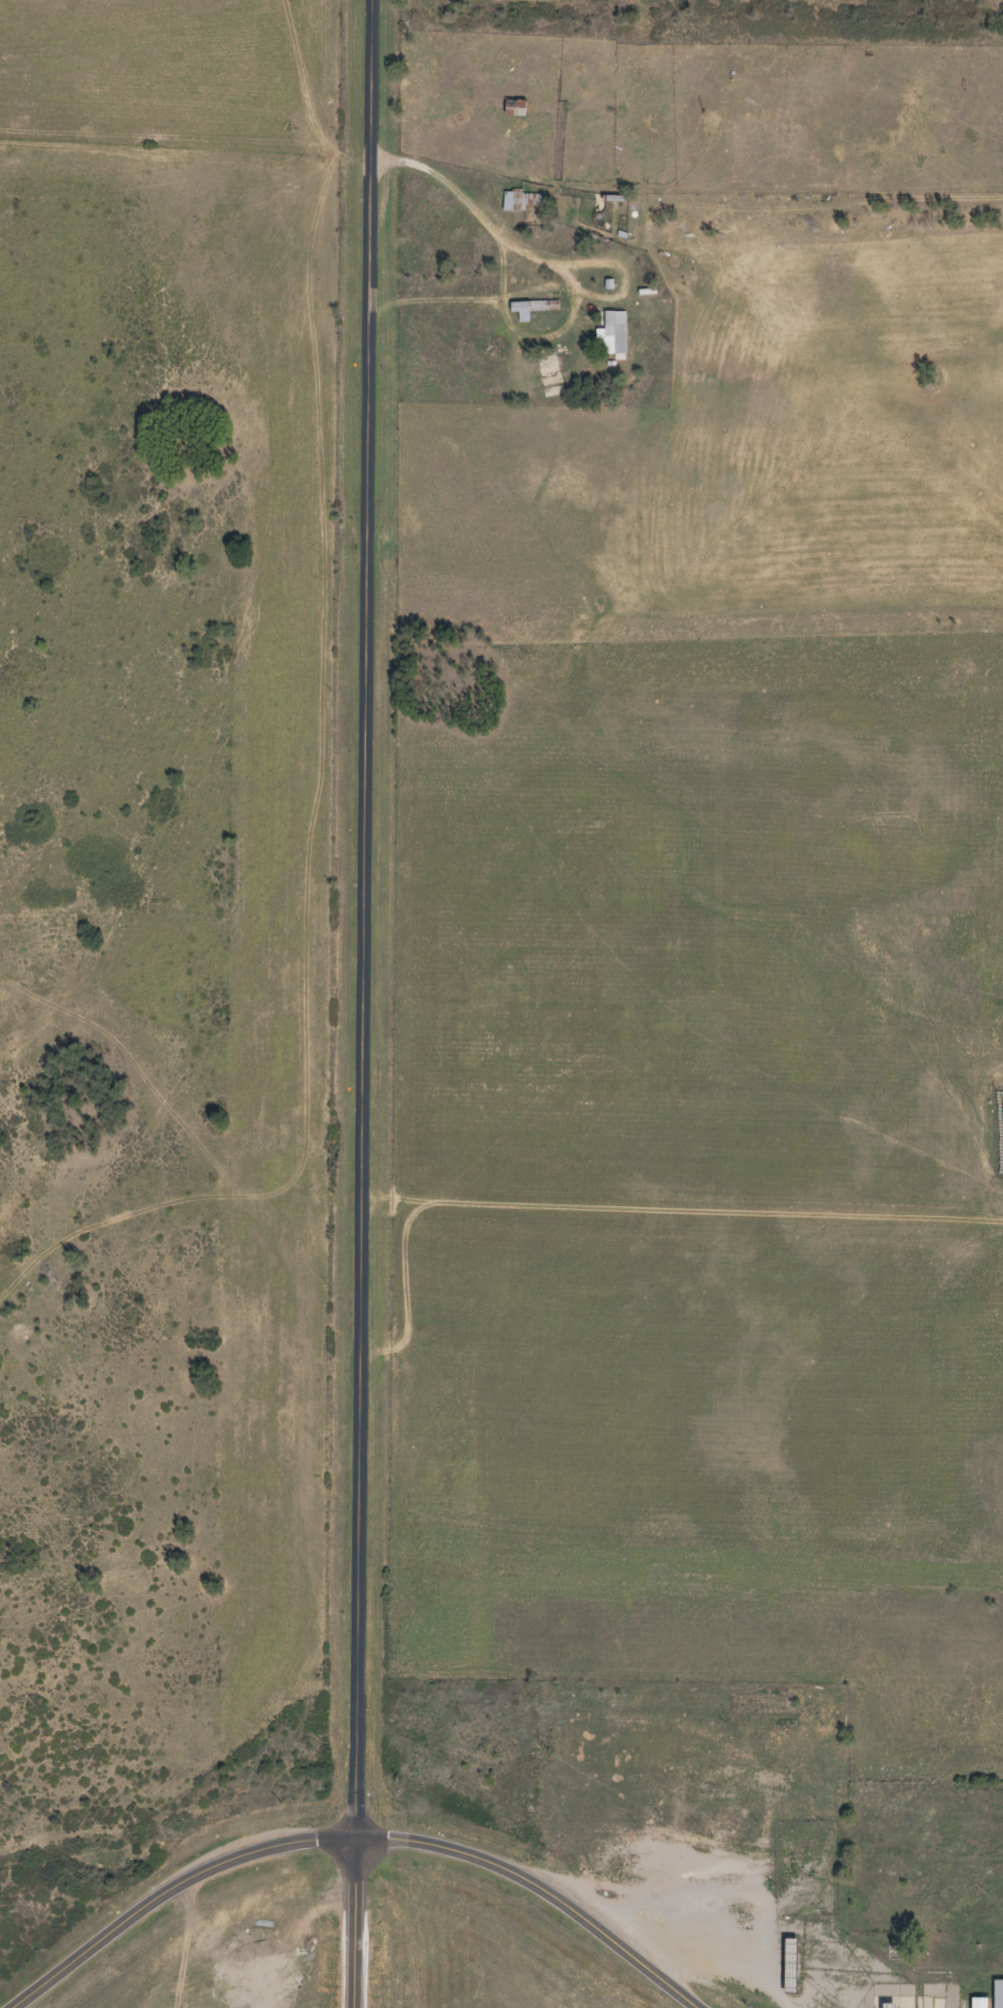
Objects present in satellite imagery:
building: (514, 105)
building: (514, 200)
building: (531, 306)
building: (610, 332)
road: (362, 1004)
road: (350, 1833)
building: (787, 1961)
road: (774, 1963)
building: (996, 1992)
building: (976, 2001)

